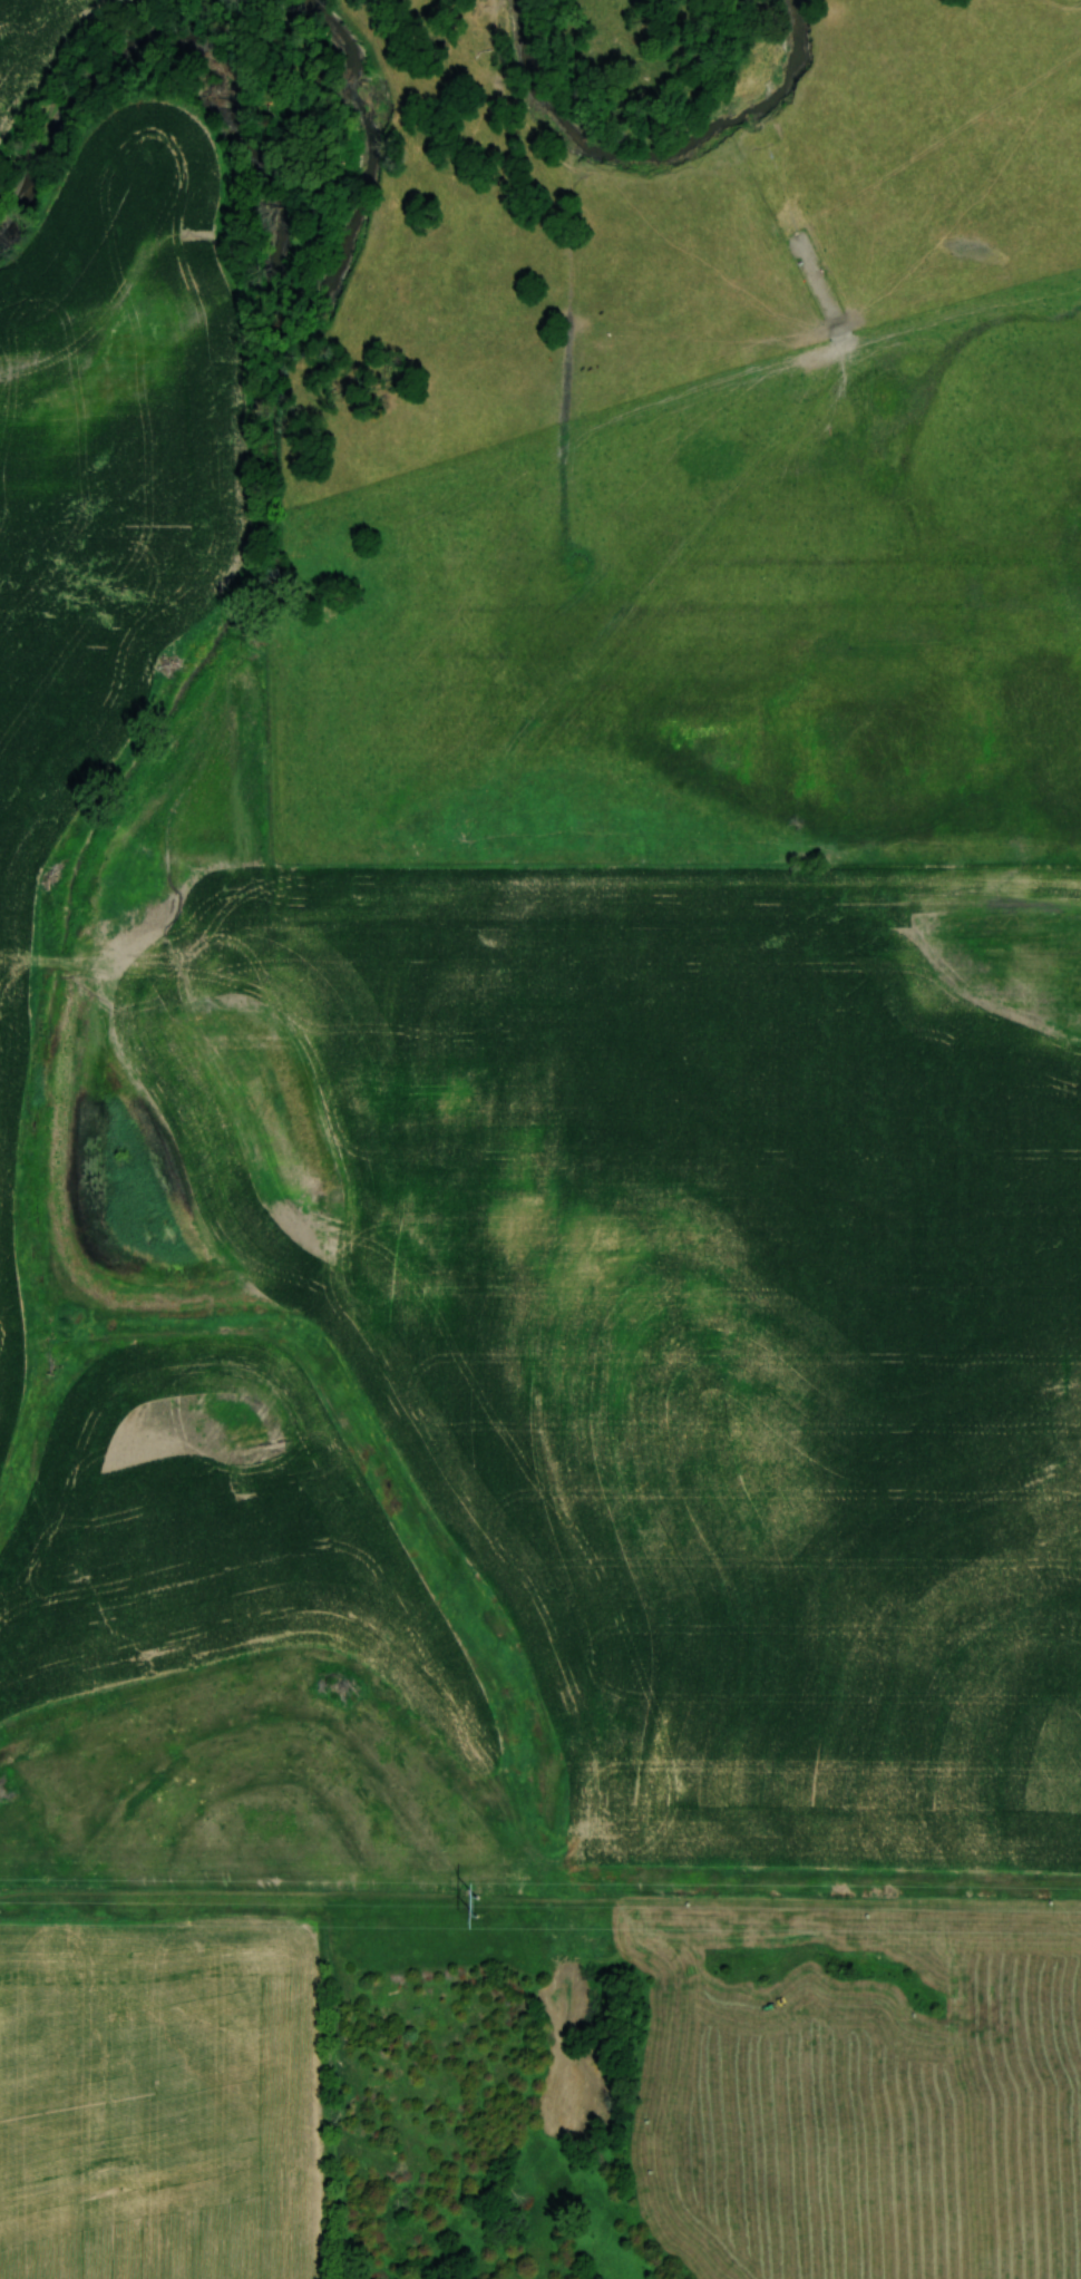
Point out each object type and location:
river: (647, 156)
river: (267, 183)
power tower: (476, 1906)

